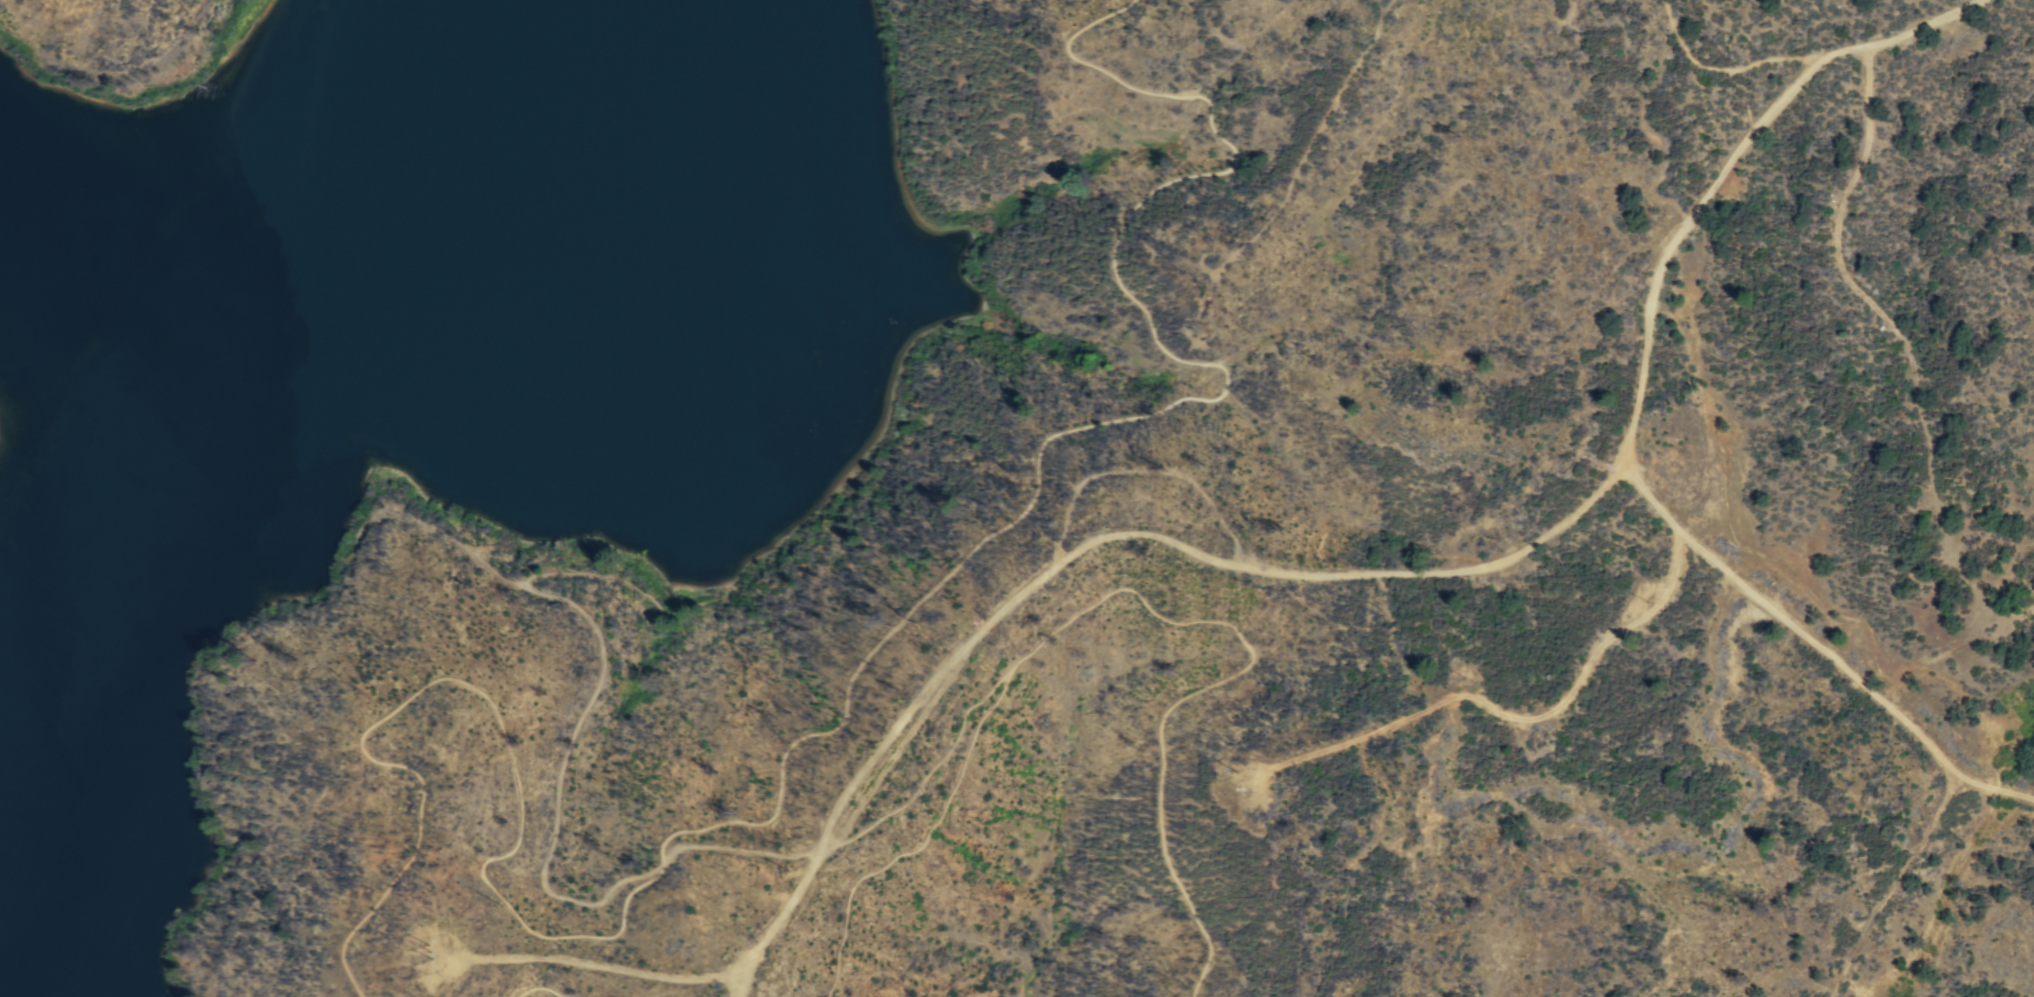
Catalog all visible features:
road: (1902, 34)
road: (1798, 57)
road: (1699, 63)
road: (1676, 238)
road: (1848, 280)
river: (201, 410)
road: (1143, 468)
road: (1445, 570)
road: (1132, 592)
road: (1786, 620)
road: (986, 624)
road: (602, 668)
road: (842, 706)
road: (1504, 713)
road: (1994, 788)
road: (883, 819)
road: (1893, 883)
road: (782, 913)
road: (597, 964)
road: (740, 984)
road: (537, 993)

